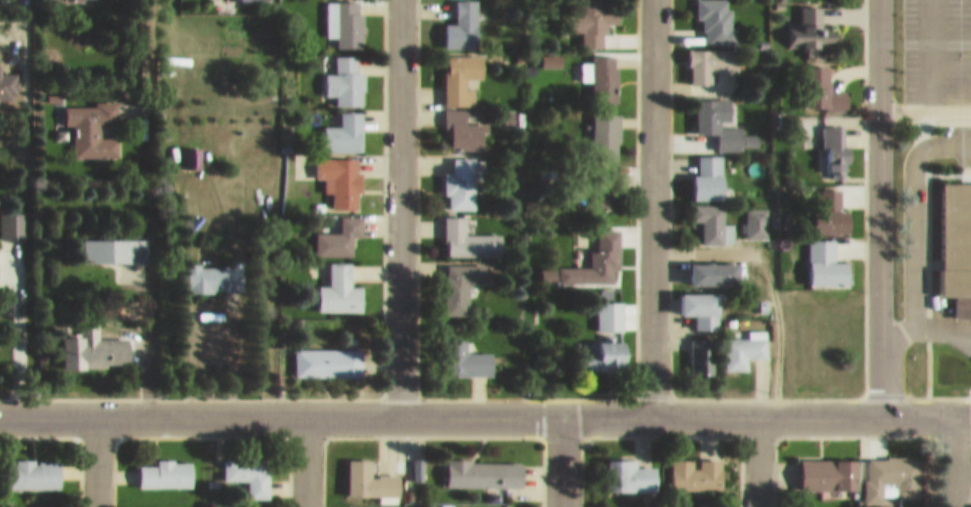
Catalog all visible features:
building: (595, 16)
building: (717, 17)
building: (344, 19)
building: (462, 20)
building: (811, 22)
road: (931, 49)
building: (713, 62)
building: (601, 66)
parking lot: (939, 66)
building: (462, 68)
building: (347, 71)
building: (824, 81)
road: (925, 99)
building: (720, 113)
building: (805, 115)
building: (465, 118)
building: (92, 119)
building: (343, 124)
building: (606, 127)
building: (835, 143)
building: (190, 148)
building: (709, 167)
building: (341, 171)
building: (463, 173)
building: (603, 180)
building: (831, 203)
road: (398, 204)
road: (652, 204)
road: (879, 204)
building: (756, 214)
building: (712, 215)
building: (12, 216)
road: (911, 219)
building: (340, 228)
building: (468, 231)
building: (954, 232)
building: (116, 241)
building: (591, 254)
building: (827, 256)
building: (715, 264)
building: (217, 268)
building: (462, 276)
building: (340, 281)
building: (702, 300)
building: (610, 306)
building: (95, 340)
building: (745, 341)
building: (606, 346)
building: (702, 347)
building: (469, 350)
building: (328, 353)
road: (485, 408)
road: (560, 457)
road: (757, 457)
road: (953, 457)
road: (96, 458)
road: (305, 458)
building: (34, 464)
building: (697, 464)
building: (830, 464)
building: (166, 465)
building: (249, 465)
building: (485, 465)
building: (631, 468)
building: (893, 468)
building: (370, 471)
building: (256, 502)
building: (43, 503)
building: (358, 503)
building: (151, 504)
building: (490, 506)
building: (621, 506)
building: (887, 506)

